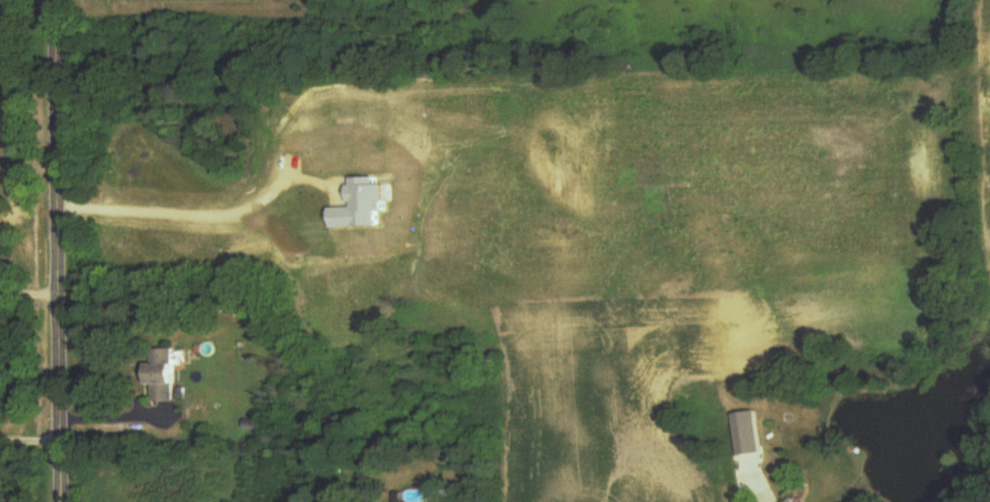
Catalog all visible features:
road: (59, 250)
building: (166, 376)
road: (118, 418)
road: (31, 440)
road: (741, 496)

